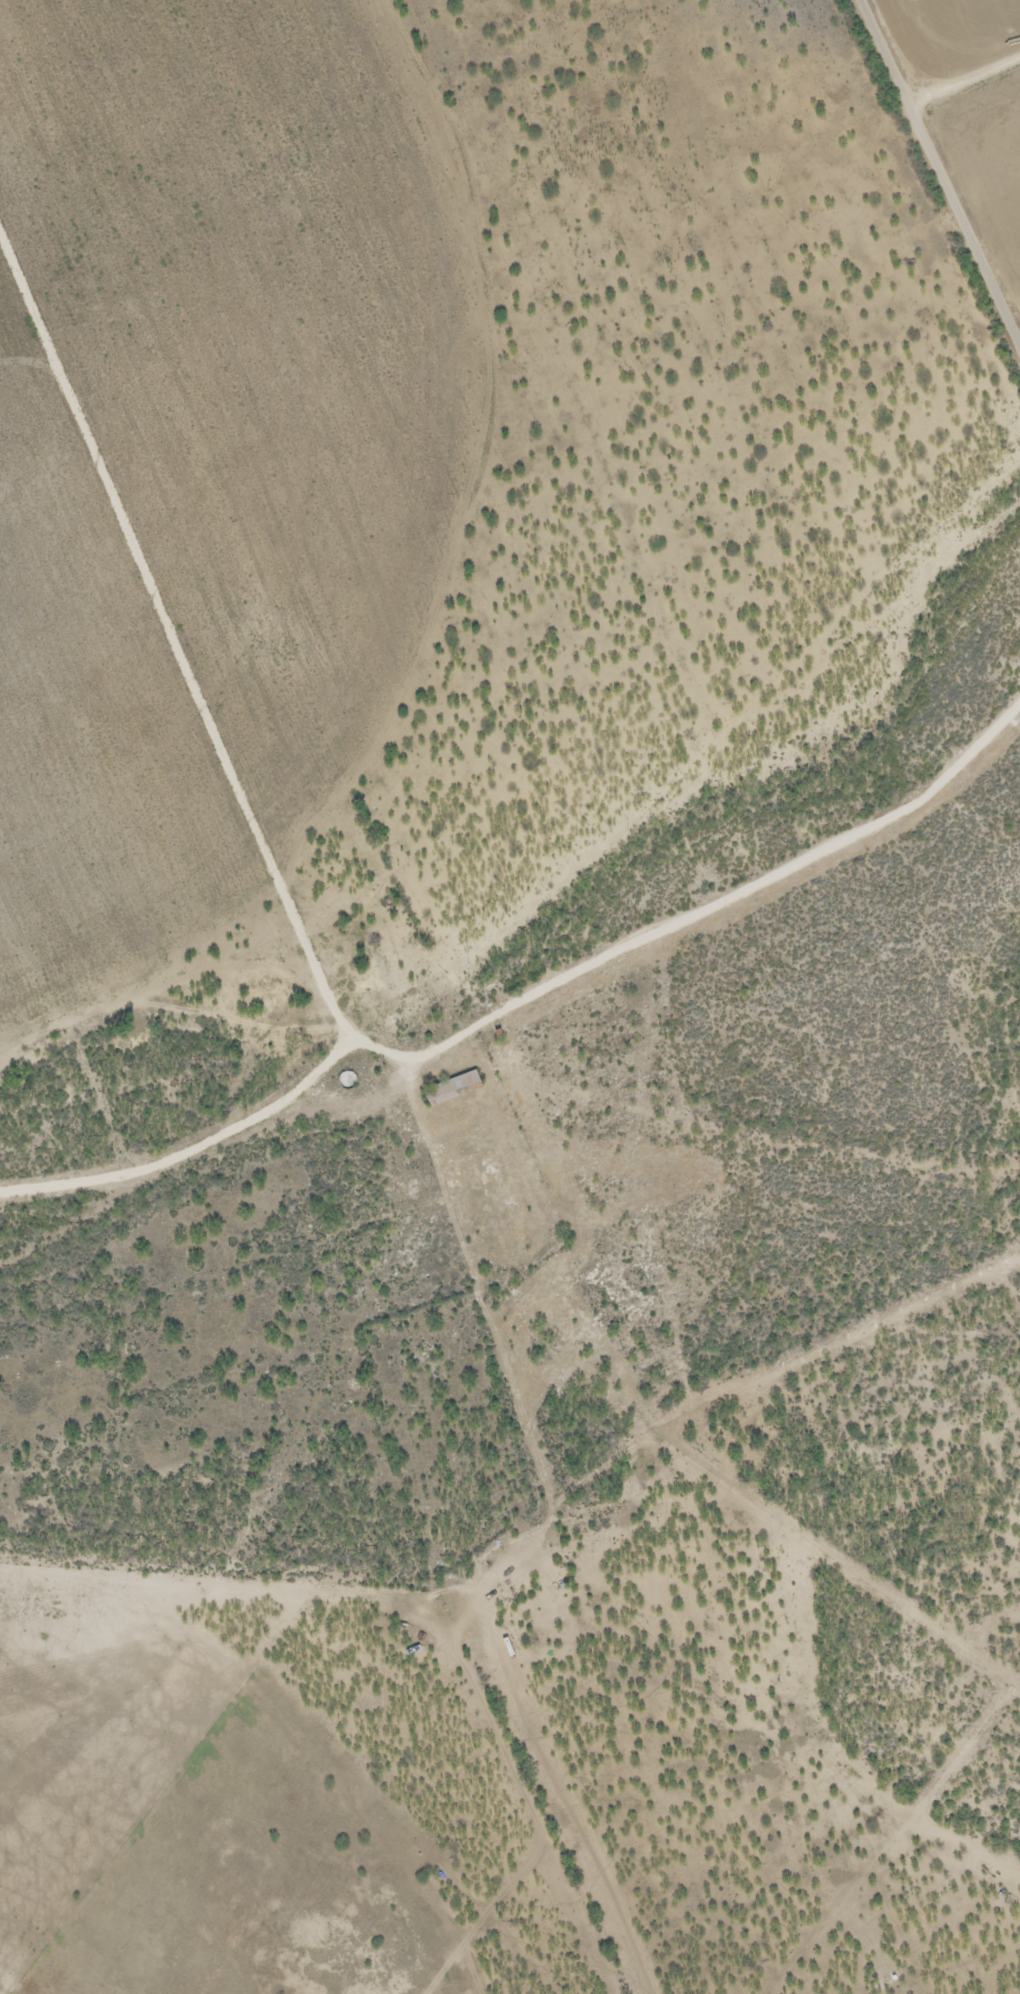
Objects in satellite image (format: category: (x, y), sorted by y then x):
road: (965, 83)
road: (940, 170)
road: (510, 399)
road: (531, 1000)
building: (450, 1088)
building: (310, 1095)
building: (402, 1123)
road: (434, 1142)

